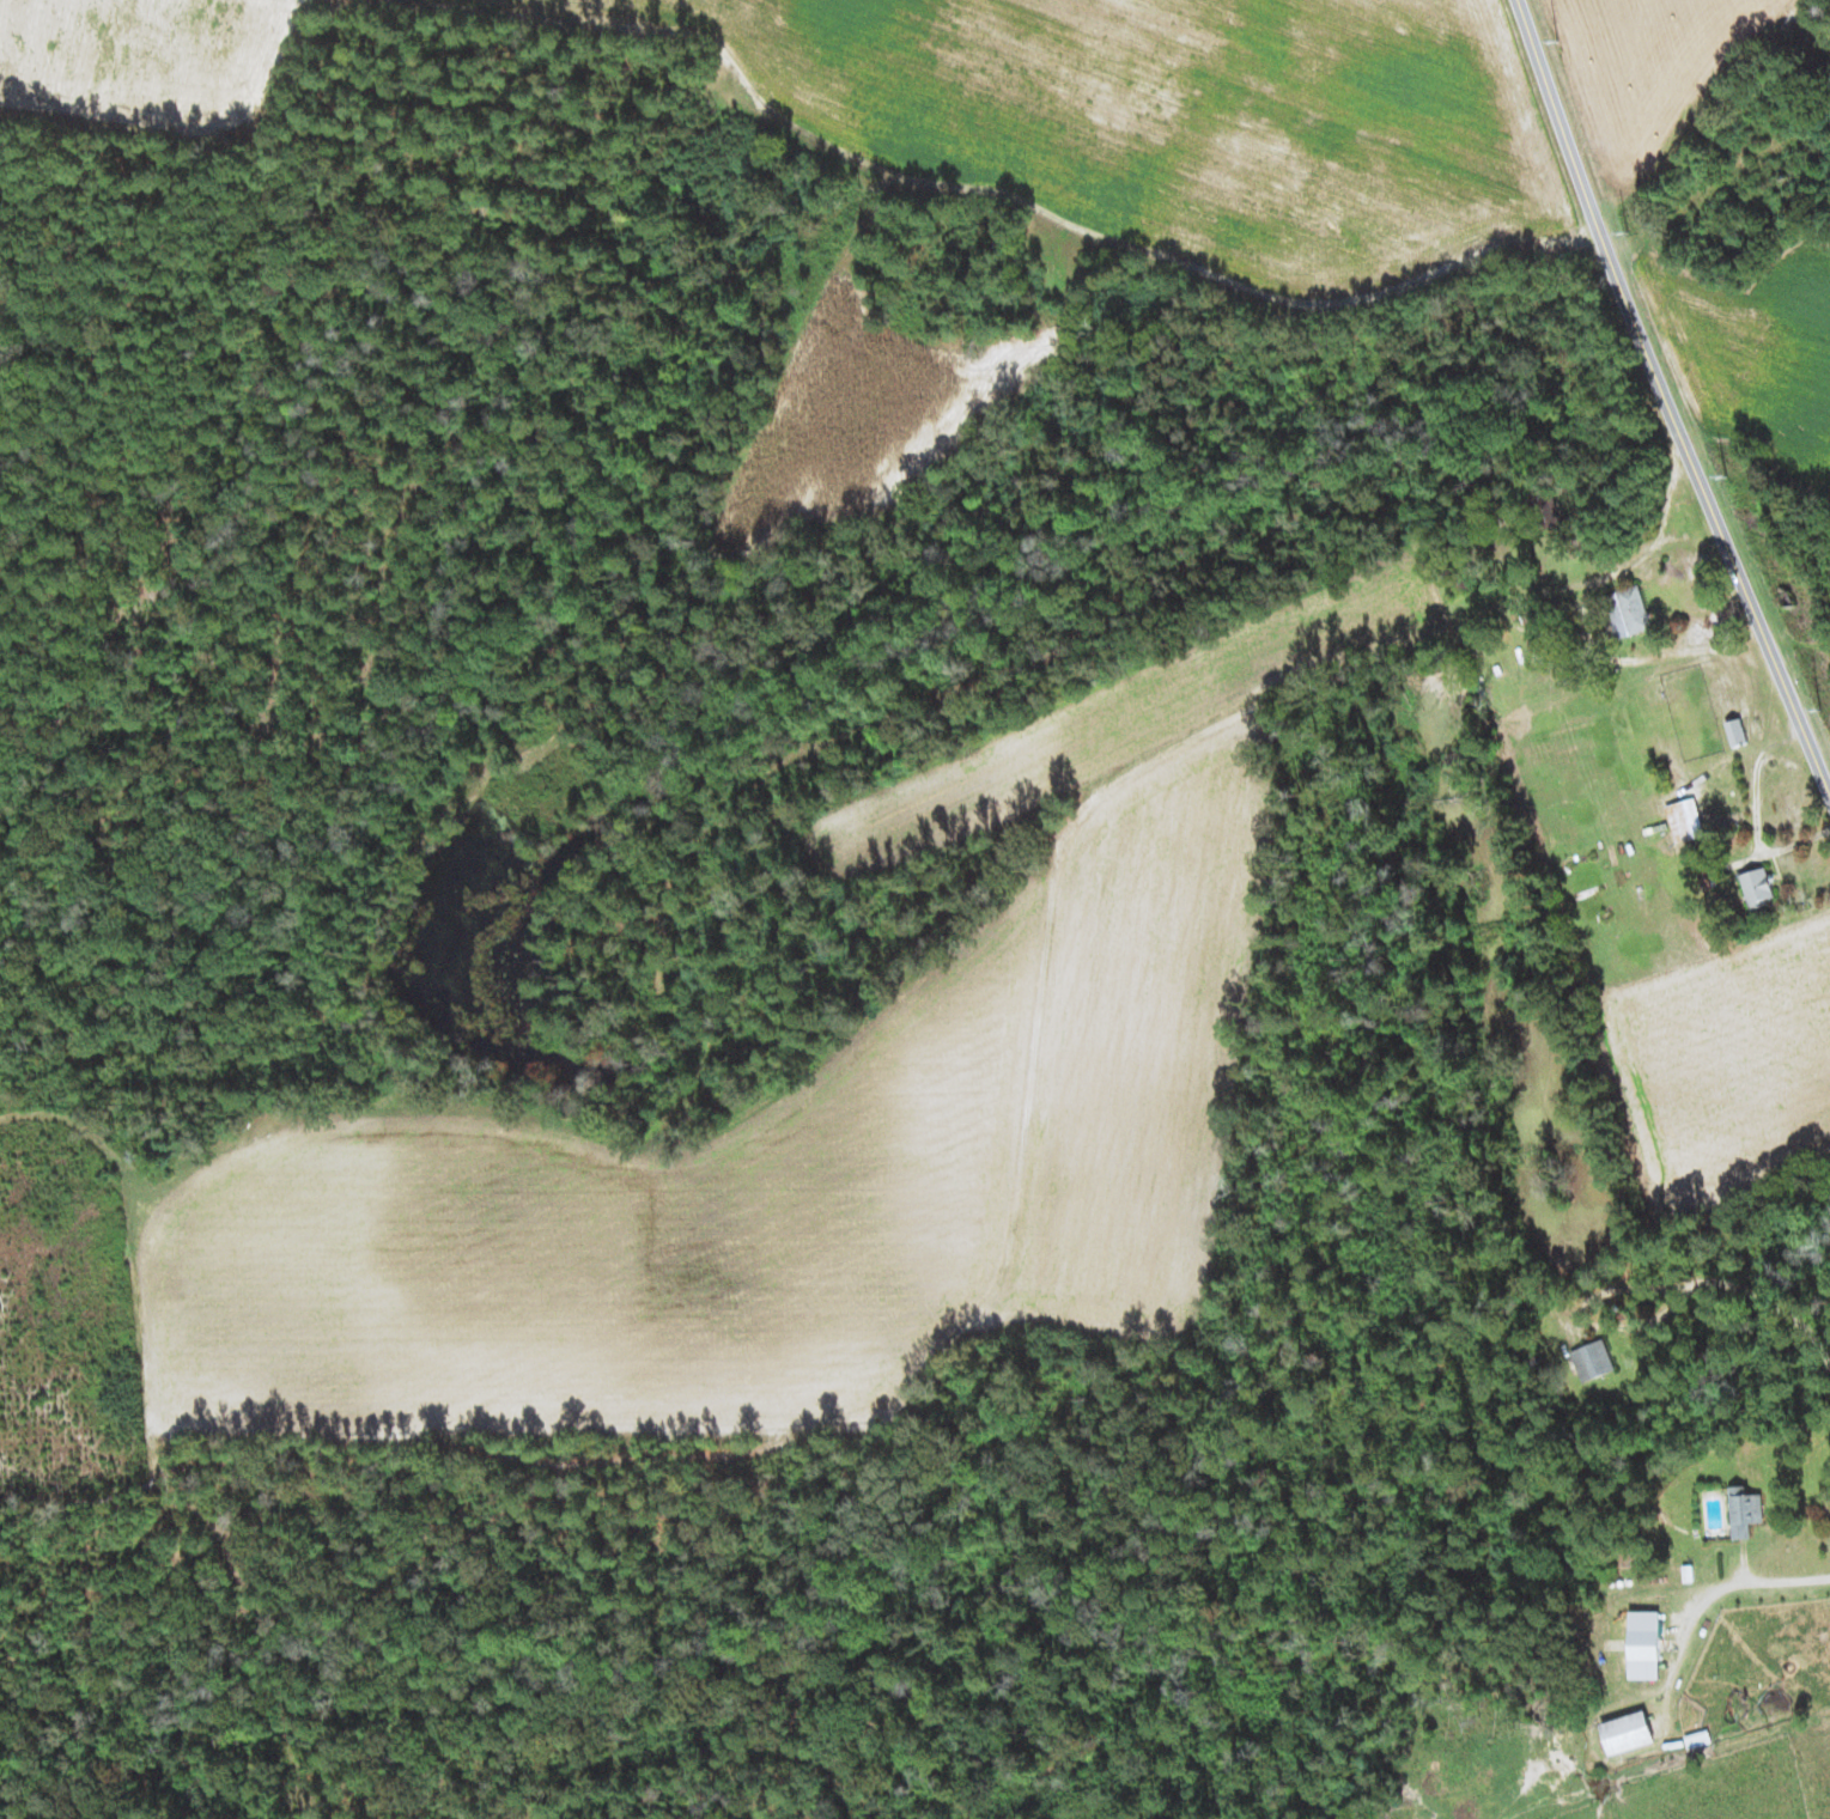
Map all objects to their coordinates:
road: (1667, 396)
building: (1627, 612)
building: (1735, 732)
building: (1685, 820)
building: (1706, 880)
building: (1757, 887)
road: (1708, 1282)
building: (1593, 1361)
building: (1745, 1510)
building: (1644, 1644)
building: (1628, 1732)
building: (1697, 1739)

